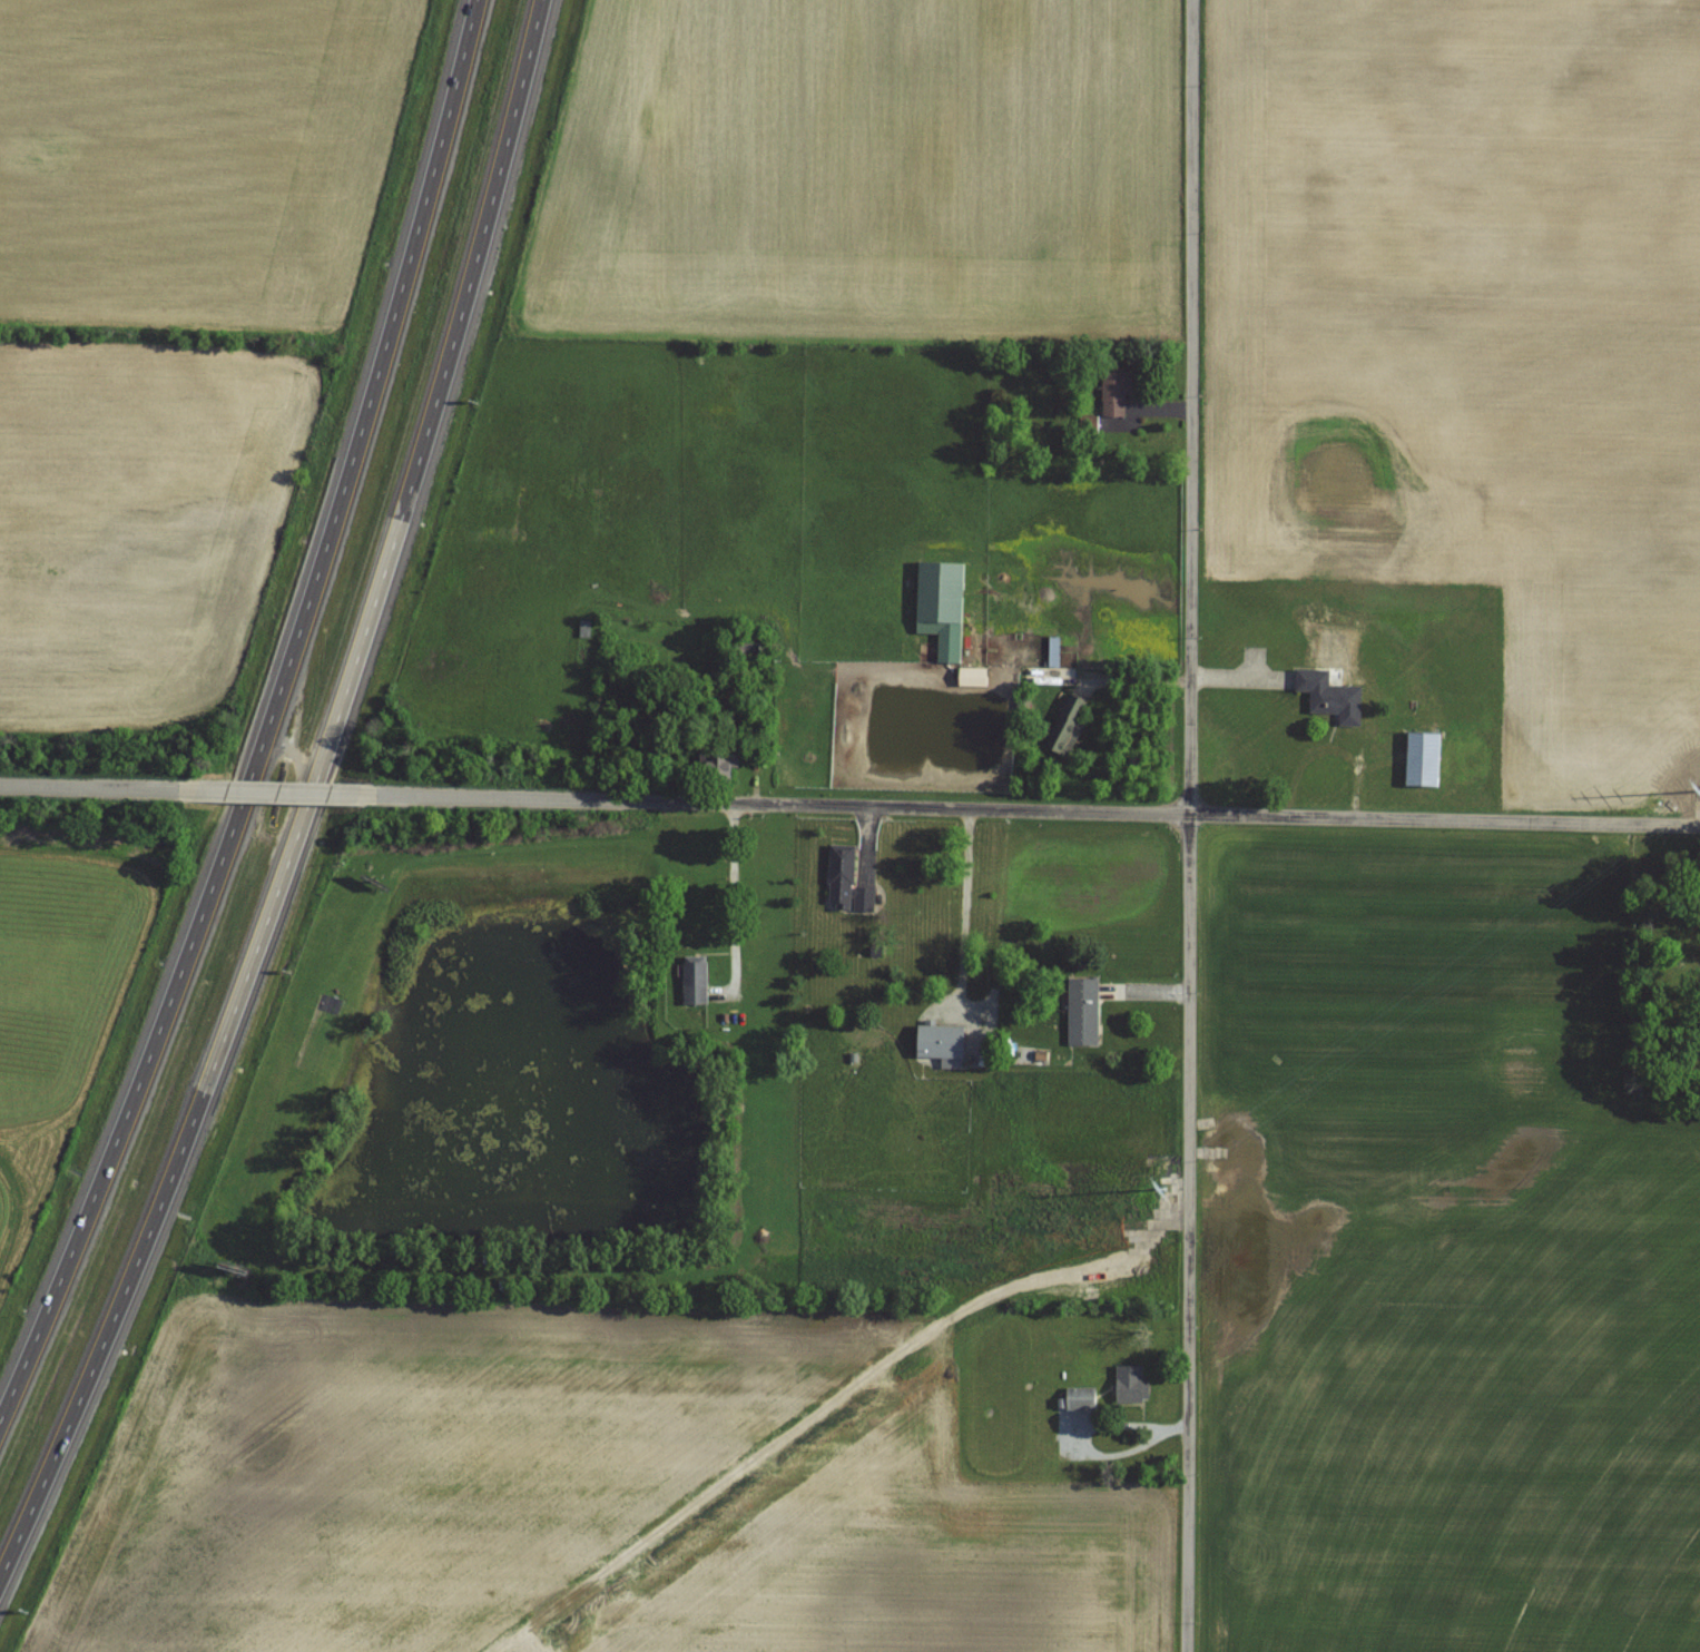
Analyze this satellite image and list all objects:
building: (1117, 392)
building: (950, 641)
building: (750, 650)
building: (974, 676)
building: (1328, 697)
road: (261, 716)
building: (1068, 725)
building: (1419, 760)
building: (717, 764)
road: (105, 787)
road: (285, 790)
road: (308, 799)
road: (1030, 810)
road: (1190, 825)
building: (847, 881)
road: (731, 893)
road: (961, 907)
building: (696, 983)
building: (1083, 1011)
building: (942, 1041)
power tower: (1148, 1196)
building: (1132, 1386)
building: (1080, 1399)
road: (1084, 1430)

